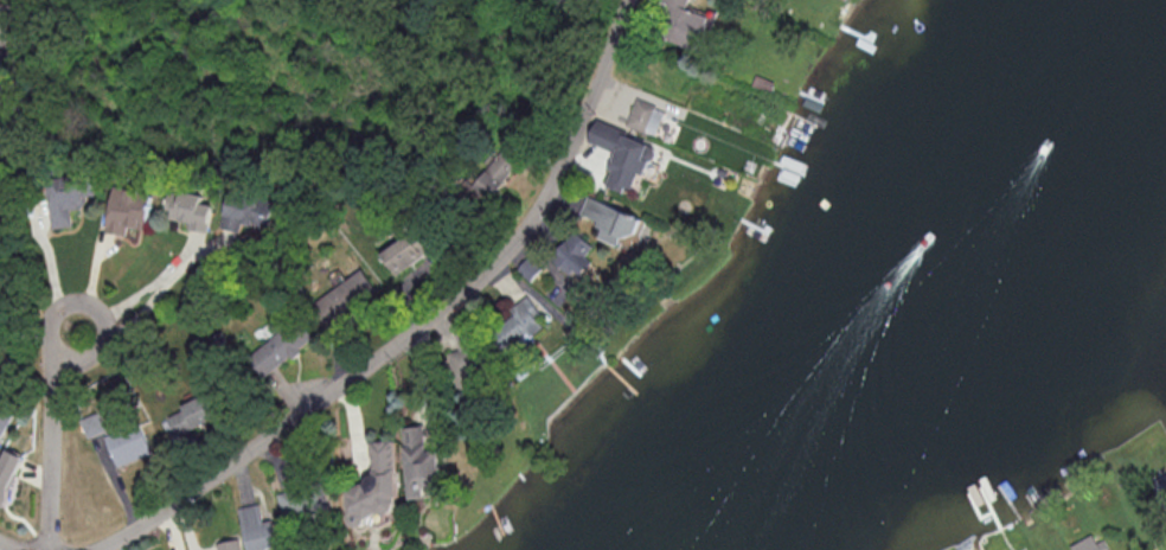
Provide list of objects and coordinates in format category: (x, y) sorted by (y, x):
building: (680, 24)
building: (0, 33)
road: (5, 90)
building: (652, 113)
building: (622, 154)
building: (492, 174)
building: (65, 197)
building: (186, 207)
building: (126, 209)
building: (239, 212)
building: (610, 218)
building: (403, 250)
building: (574, 252)
road: (50, 267)
river: (853, 275)
road: (142, 289)
building: (342, 295)
road: (422, 325)
building: (517, 325)
building: (271, 351)
building: (193, 411)
building: (5, 417)
building: (92, 423)
road: (50, 437)
building: (129, 443)
building: (419, 462)
building: (8, 471)
building: (376, 485)
building: (1160, 486)
building: (305, 500)
building: (258, 527)
building: (1090, 543)
building: (229, 544)
road: (7, 546)

